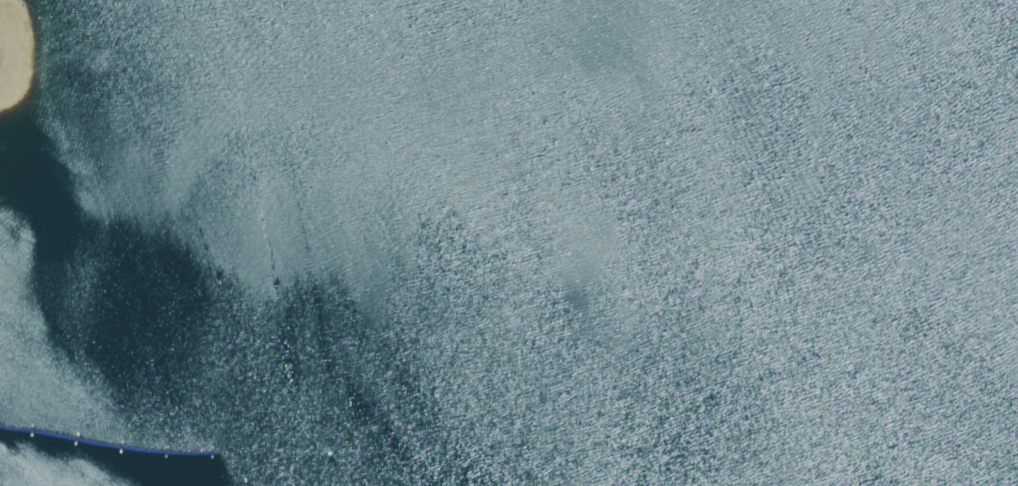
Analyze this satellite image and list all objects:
river: (653, 243)

